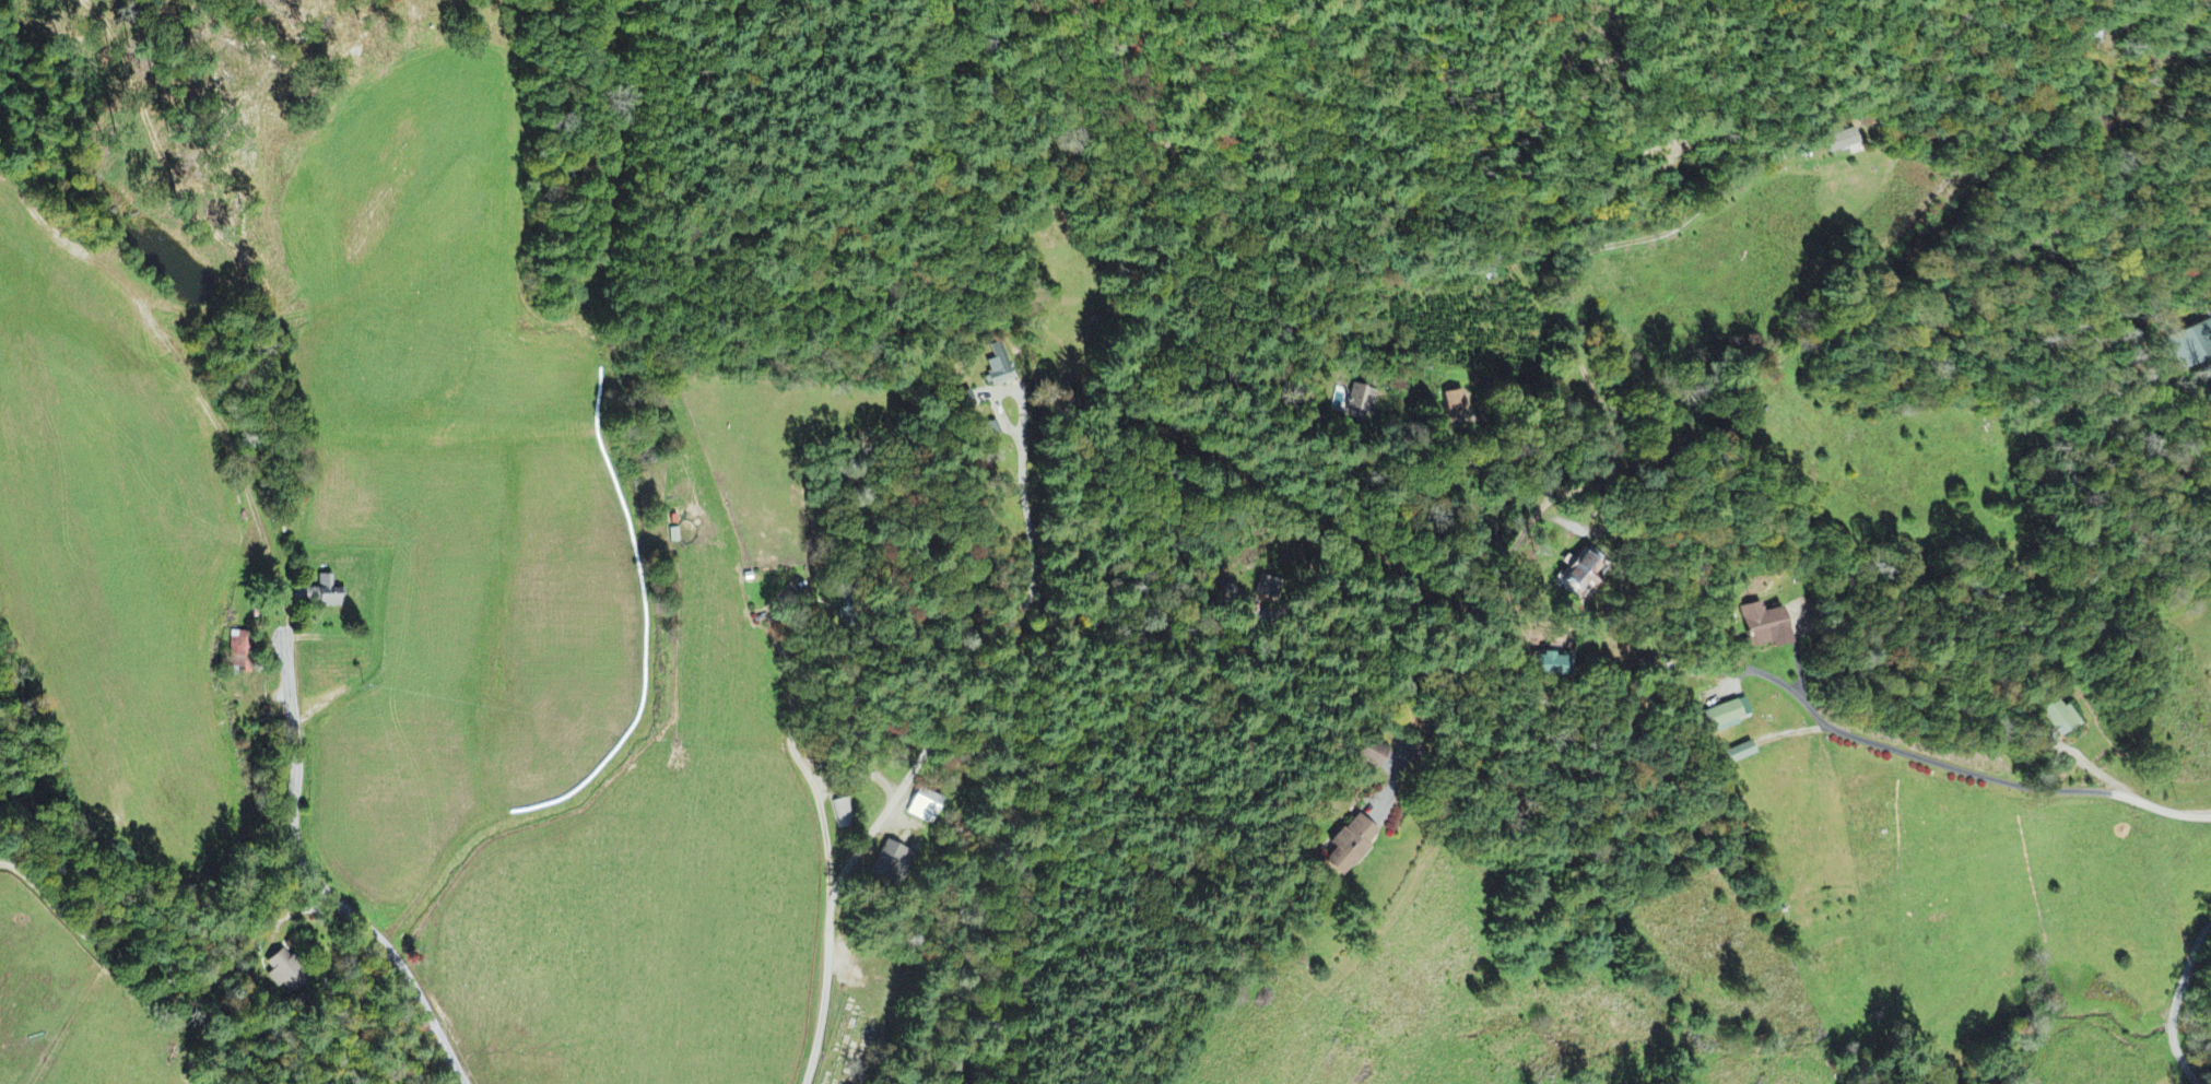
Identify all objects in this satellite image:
building: (1840, 142)
road: (1590, 247)
road: (1848, 268)
building: (2190, 346)
building: (1002, 372)
building: (1363, 402)
building: (1458, 402)
road: (1526, 432)
building: (1587, 574)
building: (1269, 590)
building: (328, 596)
road: (1093, 623)
building: (1764, 629)
building: (242, 652)
building: (1550, 667)
building: (1728, 716)
building: (2055, 724)
building: (1736, 755)
building: (1377, 756)
road: (2012, 775)
building: (926, 809)
building: (1351, 847)
building: (891, 865)
road: (167, 961)
building: (287, 974)
road: (417, 994)
road: (2174, 998)
park: (867, 1018)

